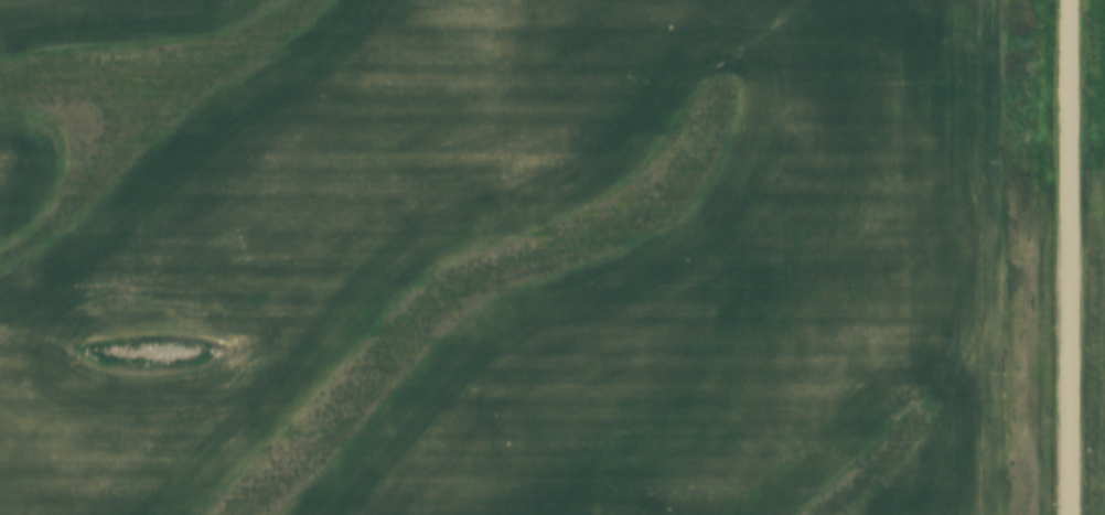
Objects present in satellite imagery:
road: (1068, 257)

